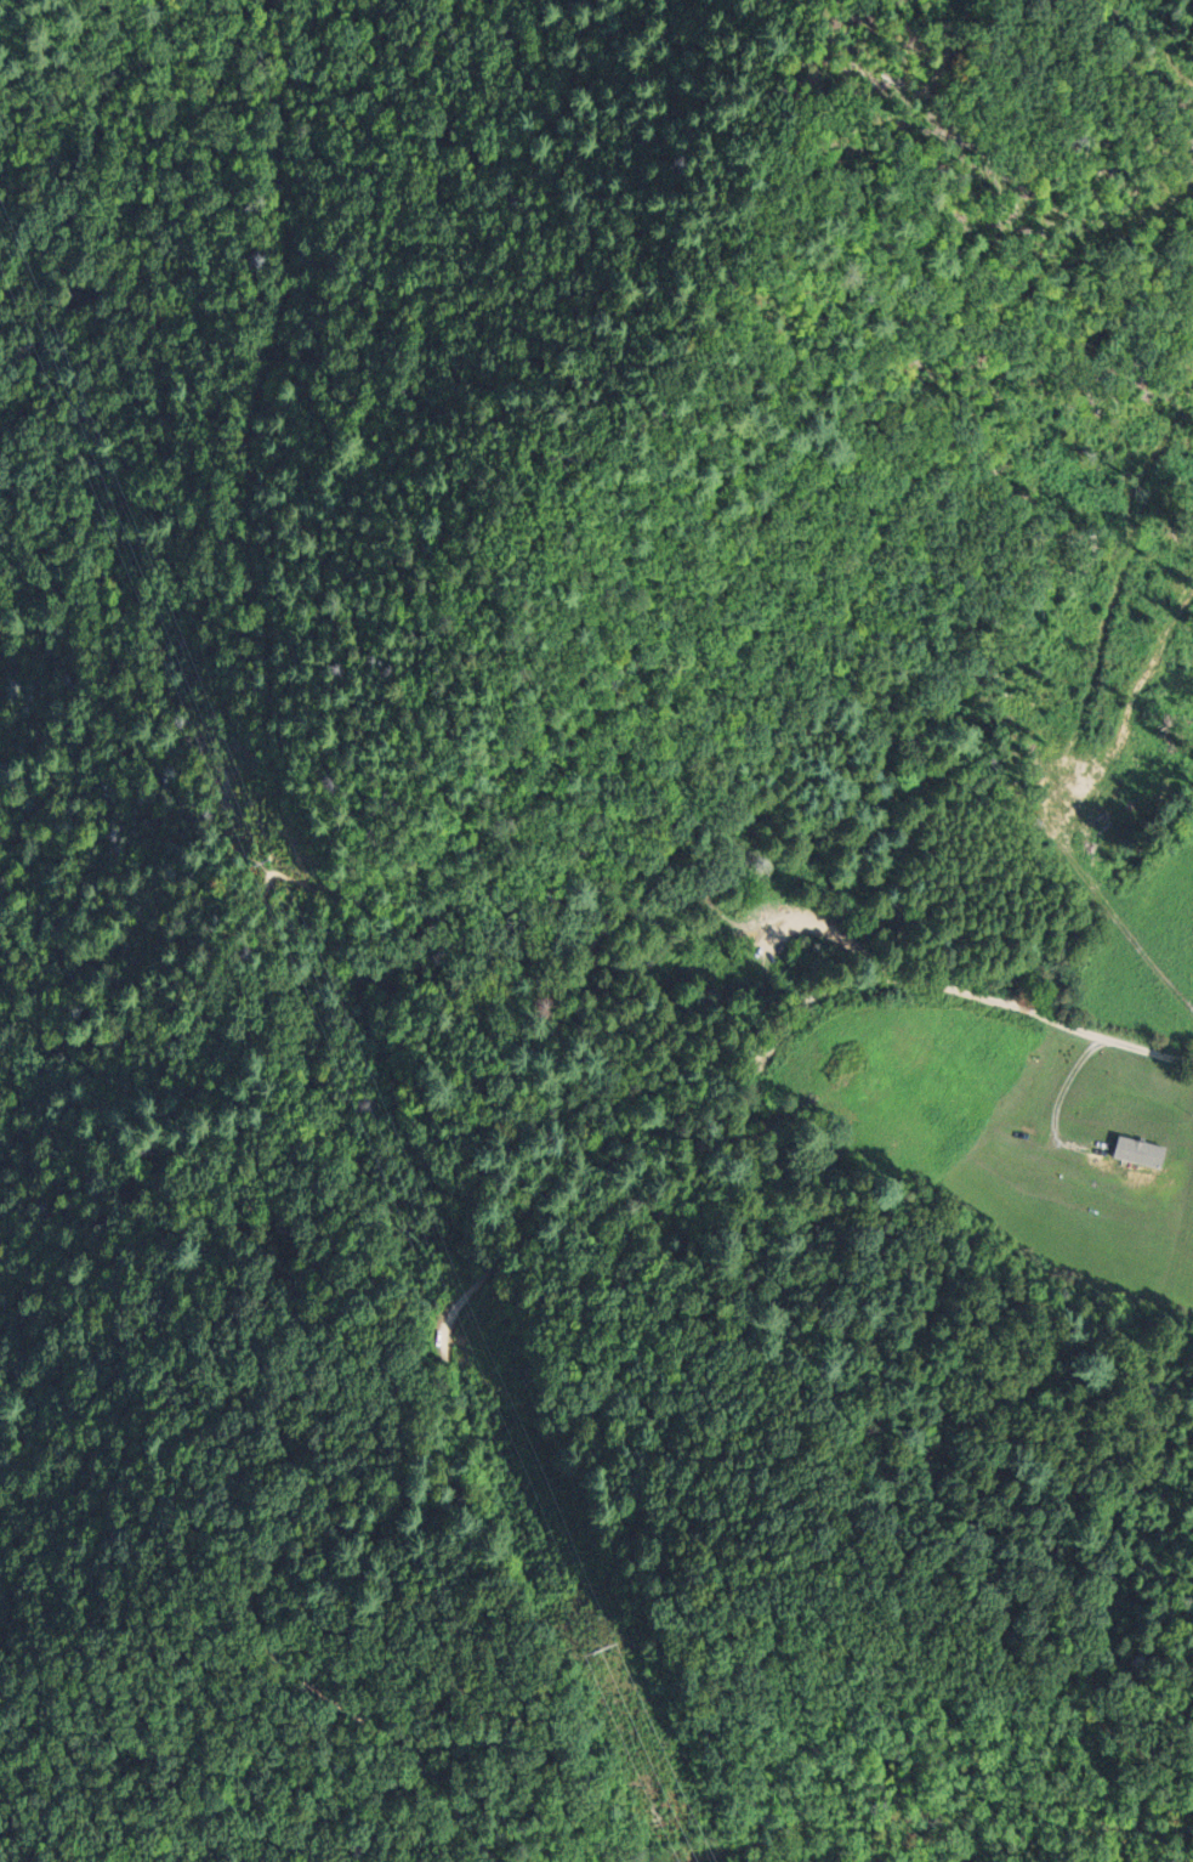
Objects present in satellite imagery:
power tower: (255, 856)
road: (488, 1273)
power tower: (595, 1645)
road: (757, 1849)

